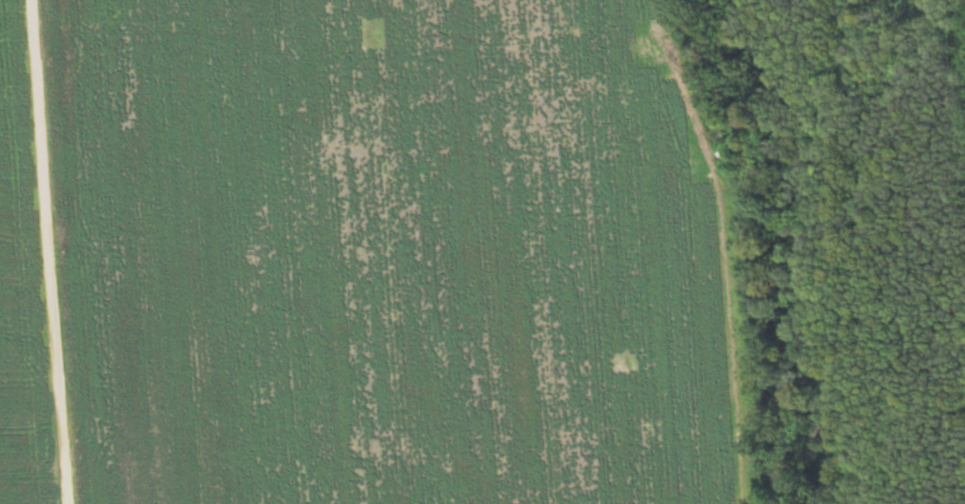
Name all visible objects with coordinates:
road: (46, 252)

